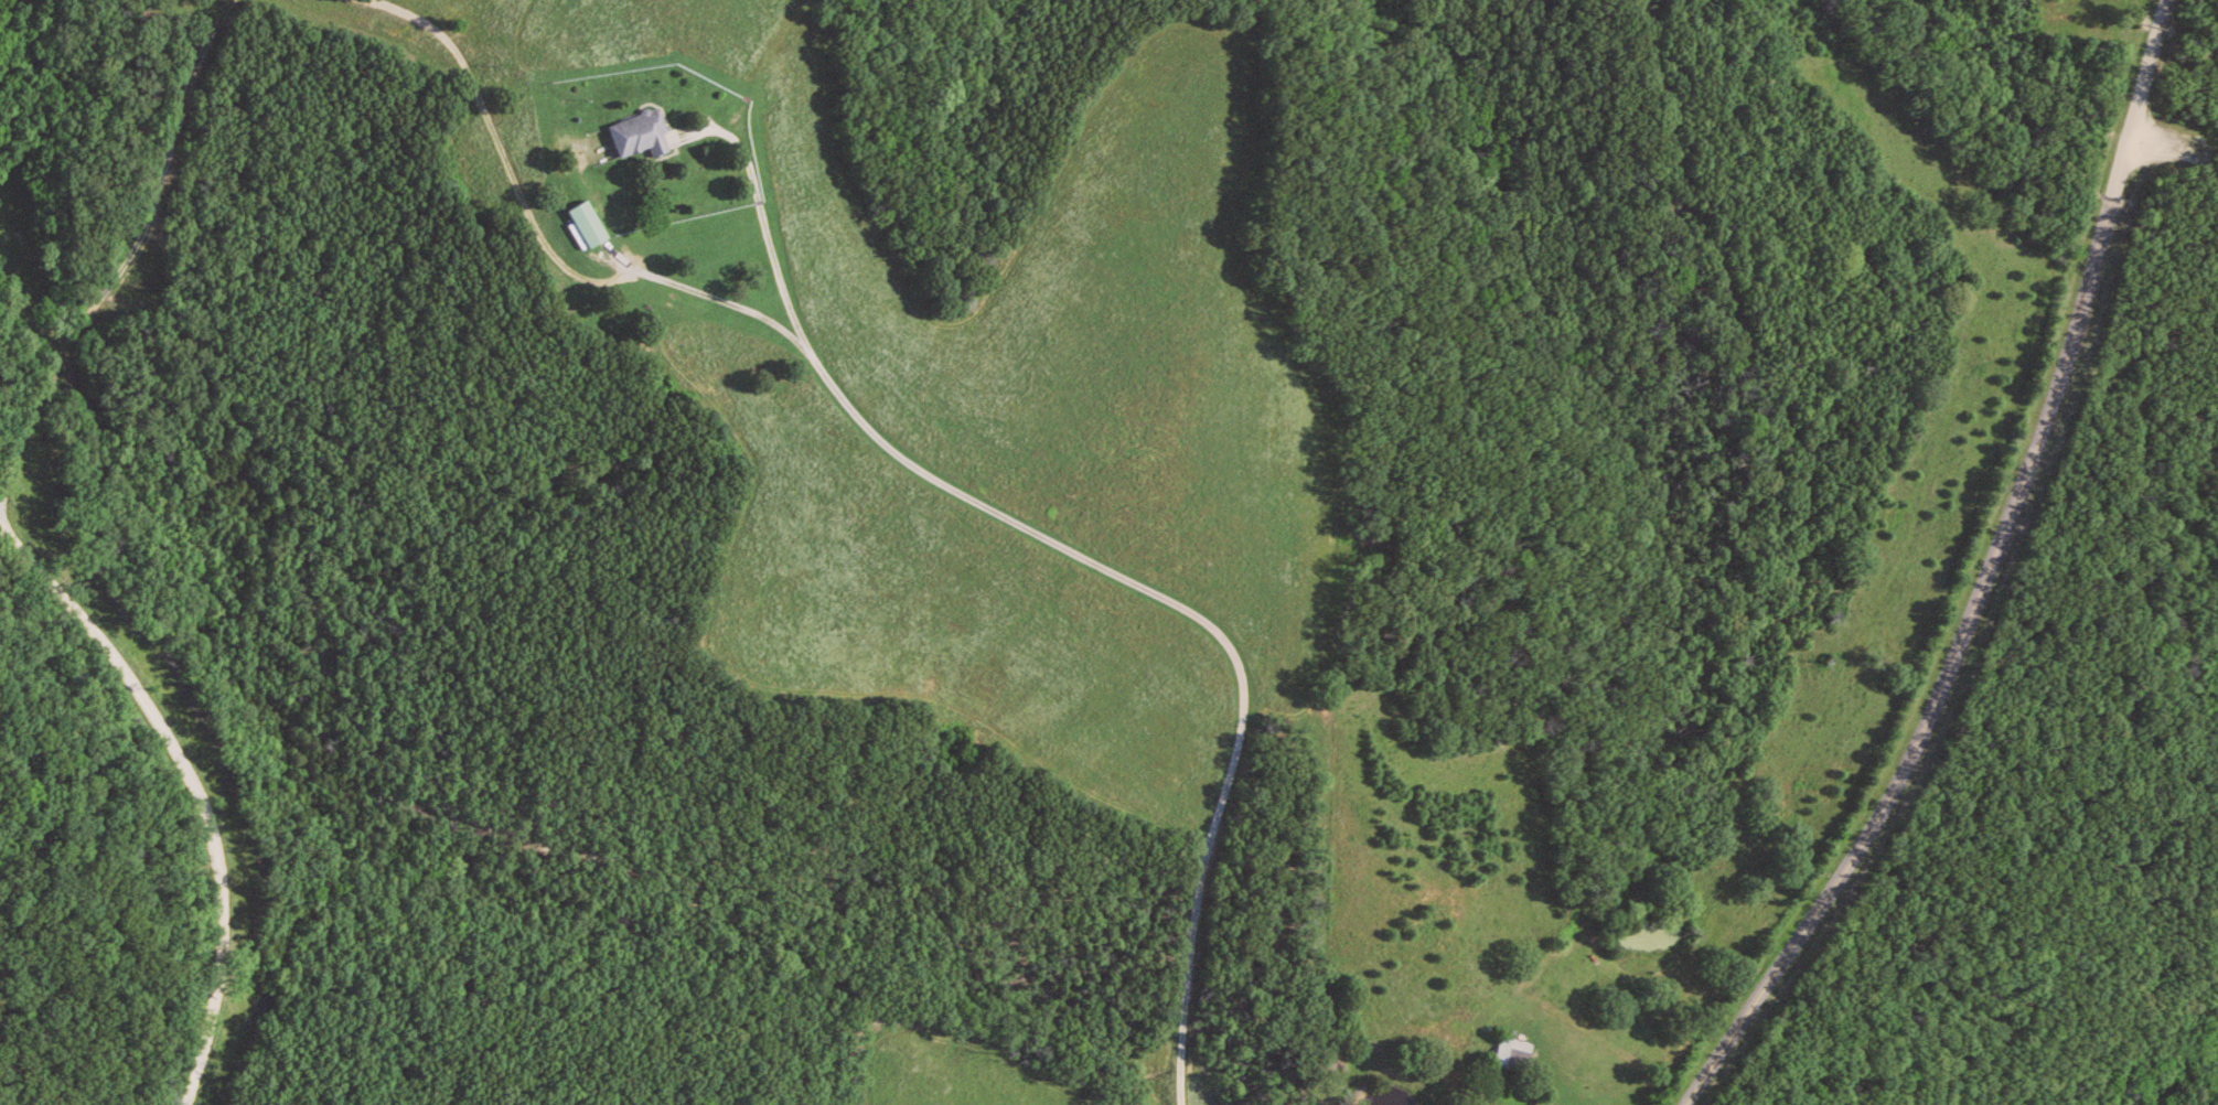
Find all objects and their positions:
building: (644, 136)
road: (128, 268)
road: (936, 480)
road: (1997, 583)
road: (195, 788)

